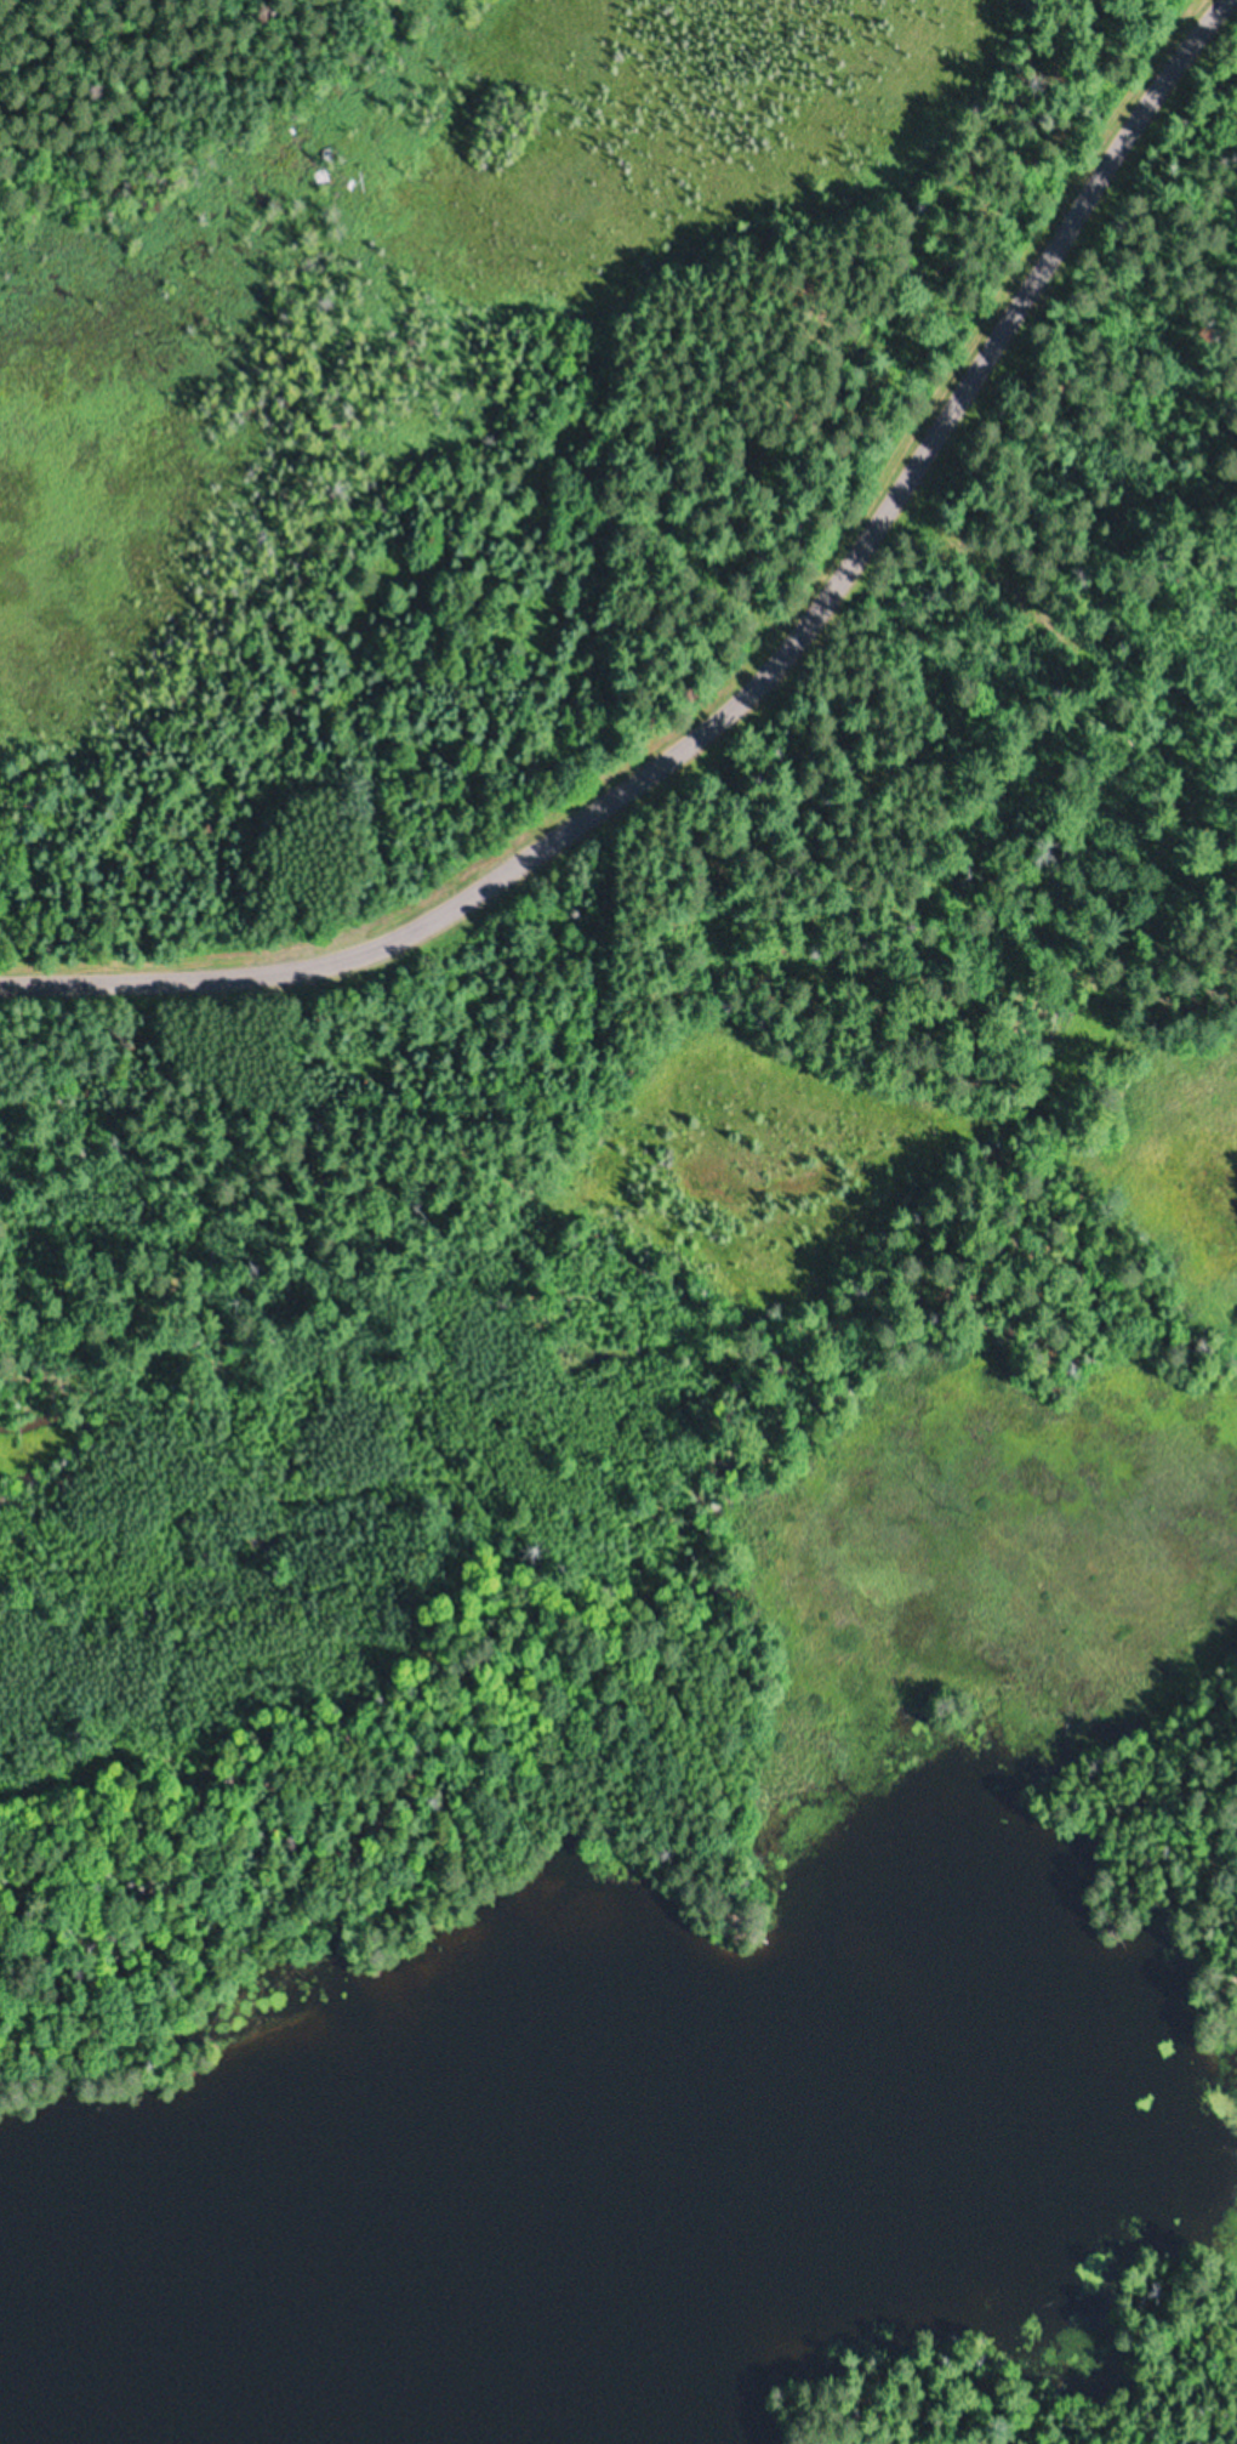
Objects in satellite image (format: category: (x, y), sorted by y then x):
road: (753, 688)

